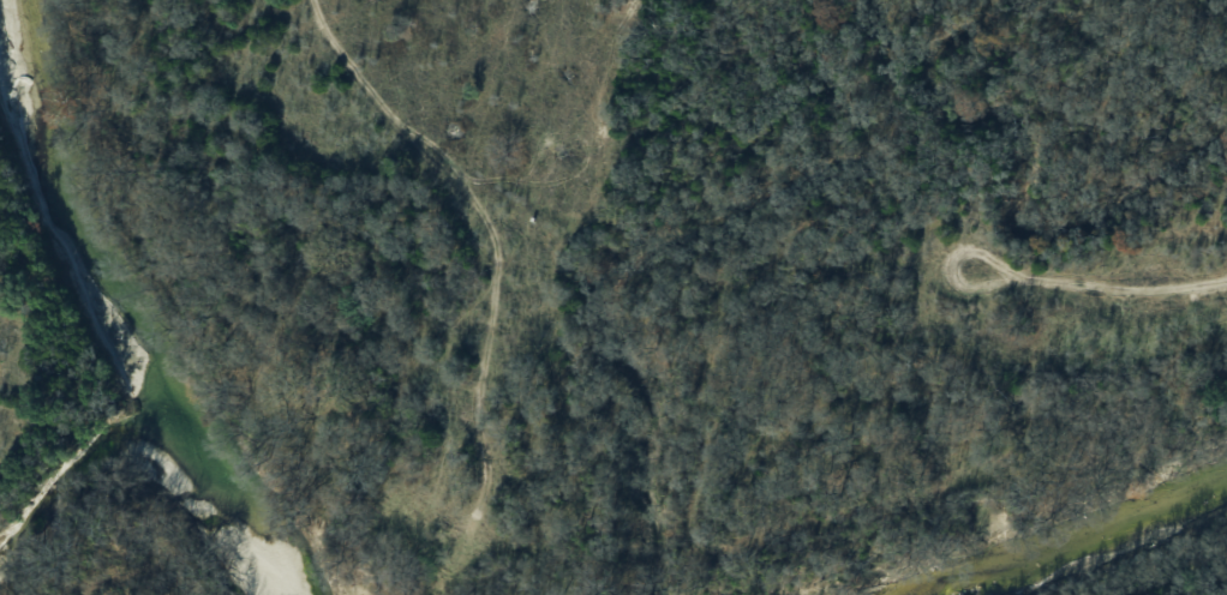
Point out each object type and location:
river: (77, 217)
road: (1123, 286)
river: (228, 505)
river: (1078, 541)

